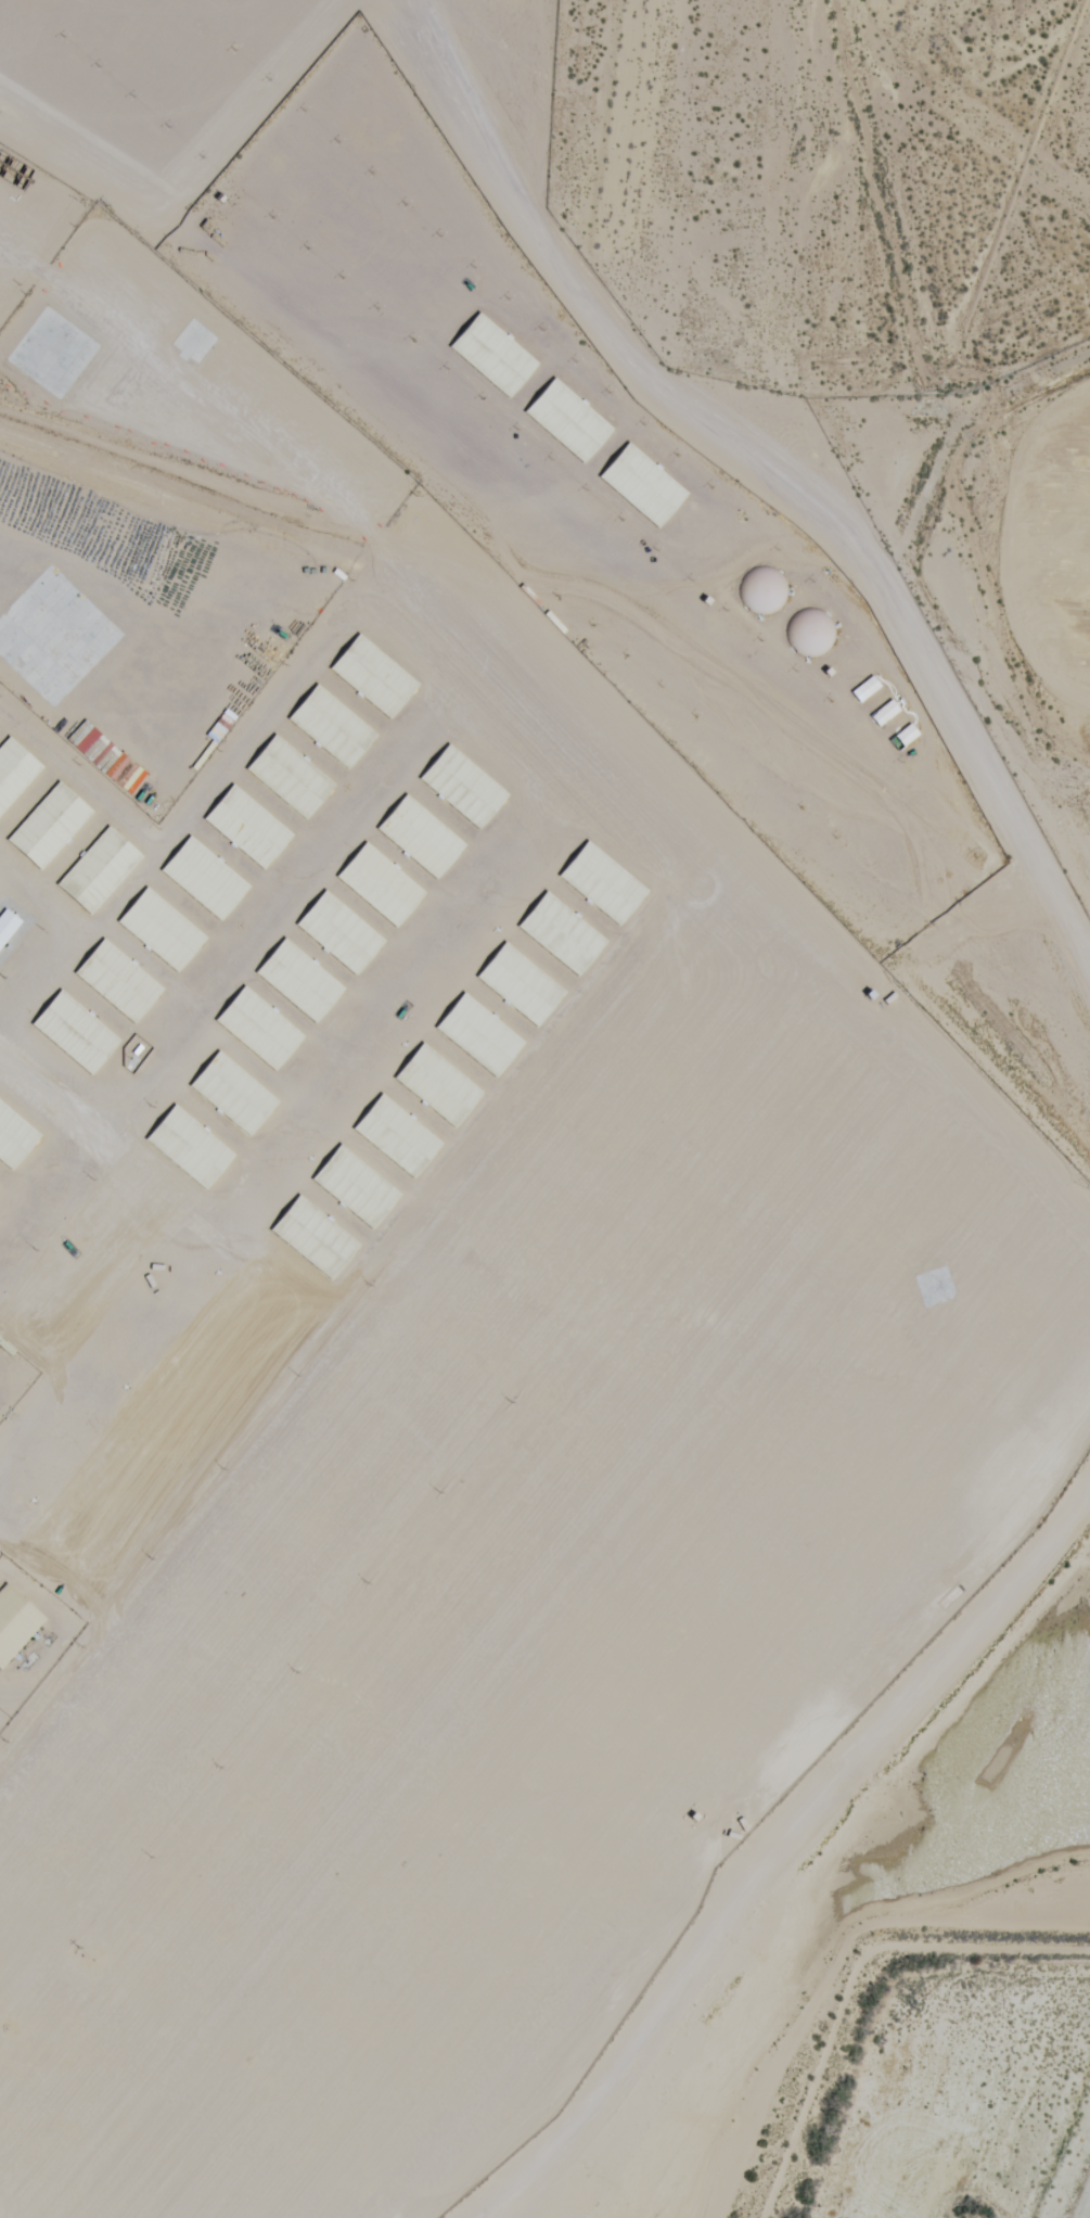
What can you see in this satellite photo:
road: (316, 332)
building: (577, 394)
building: (593, 463)
road: (767, 473)
building: (8, 518)
building: (24, 566)
building: (762, 589)
building: (812, 625)
building: (396, 642)
building: (362, 686)
building: (84, 687)
building: (504, 712)
building: (328, 729)
building: (469, 757)
building: (15, 772)
building: (292, 775)
building: (433, 804)
building: (51, 825)
building: (249, 827)
building: (100, 870)
building: (406, 876)
building: (206, 878)
building: (452, 890)
building: (8, 926)
building: (163, 930)
building: (120, 981)
building: (286, 992)
building: (77, 1032)
road: (820, 1892)

